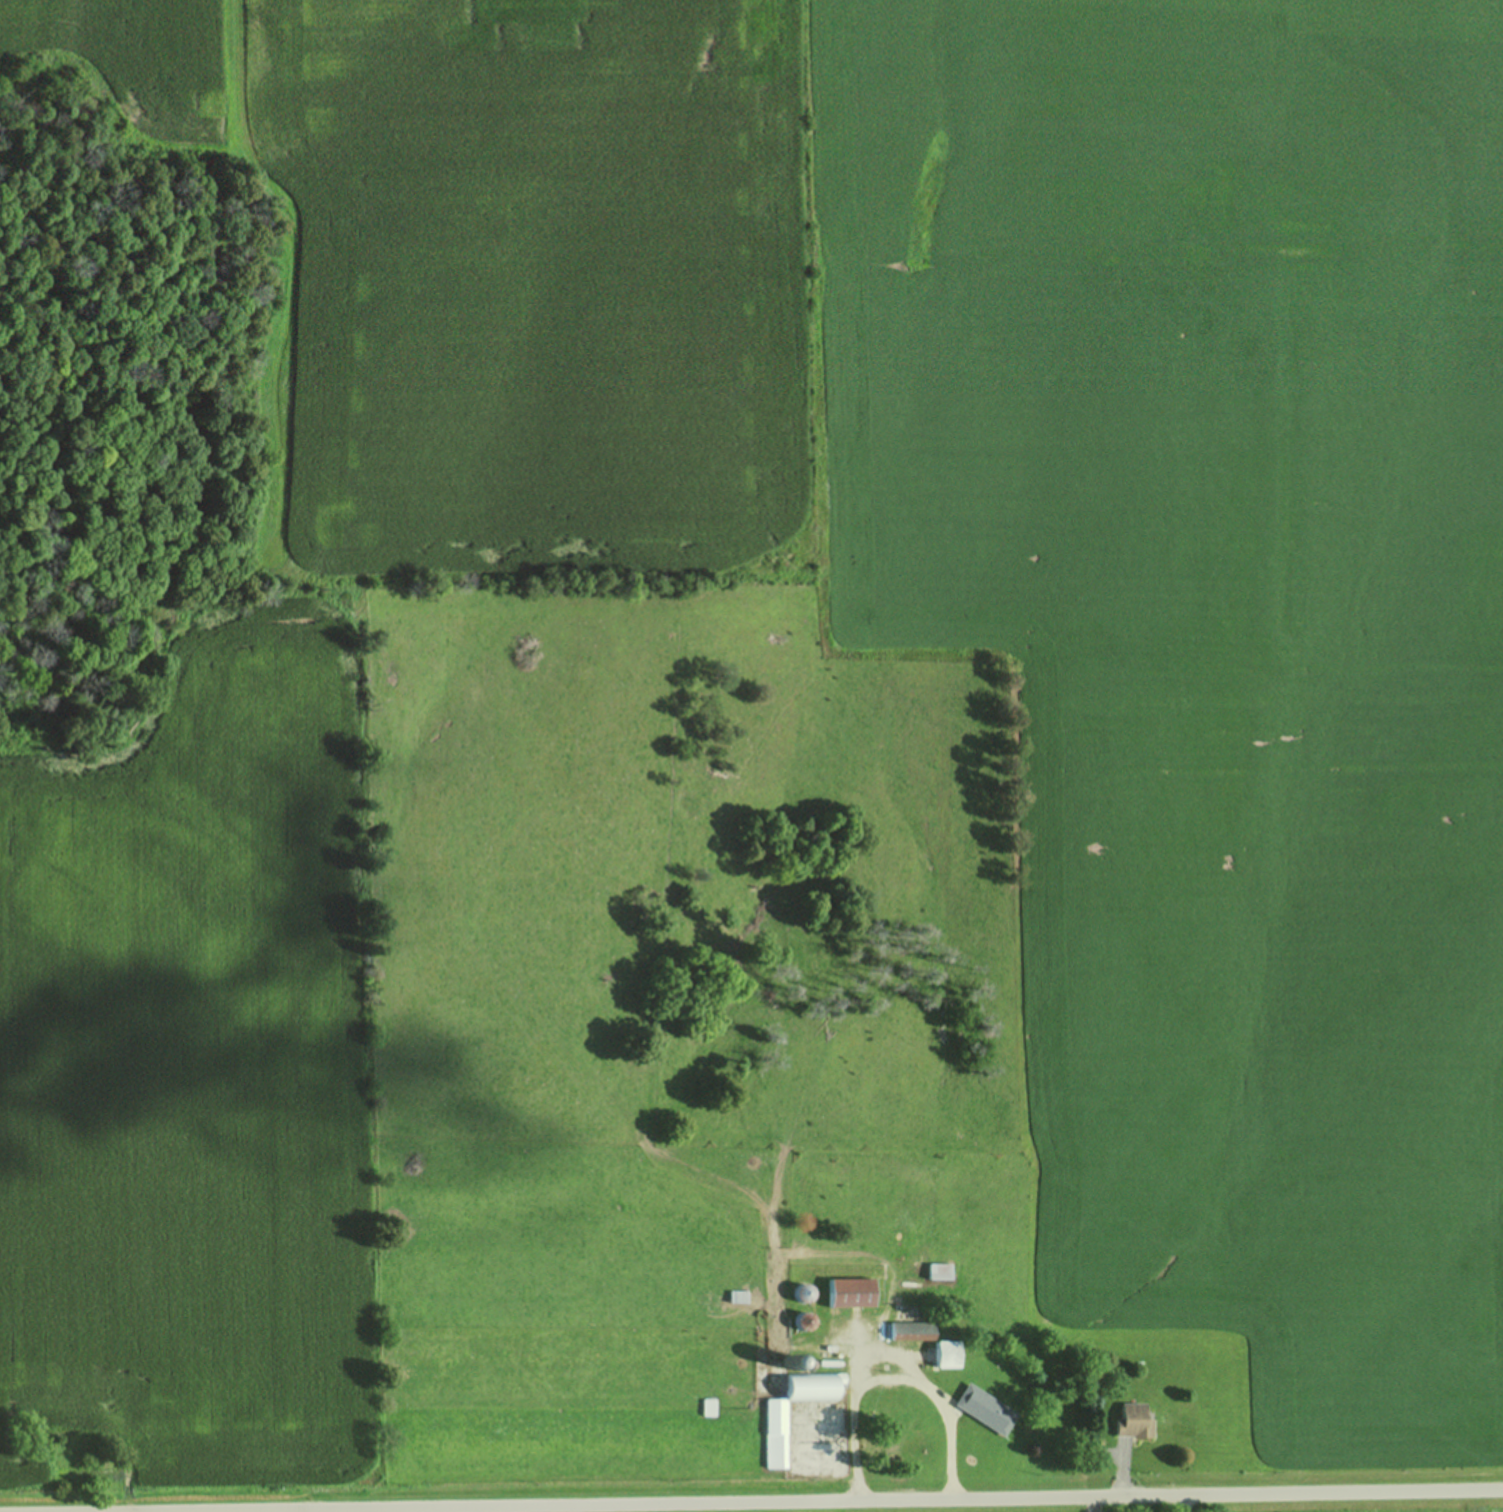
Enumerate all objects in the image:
building: (939, 1270)
building: (851, 1291)
building: (803, 1292)
building: (737, 1295)
building: (804, 1320)
building: (912, 1330)
building: (947, 1353)
building: (707, 1406)
building: (986, 1408)
building: (1133, 1420)
building: (776, 1433)
road: (918, 1503)

